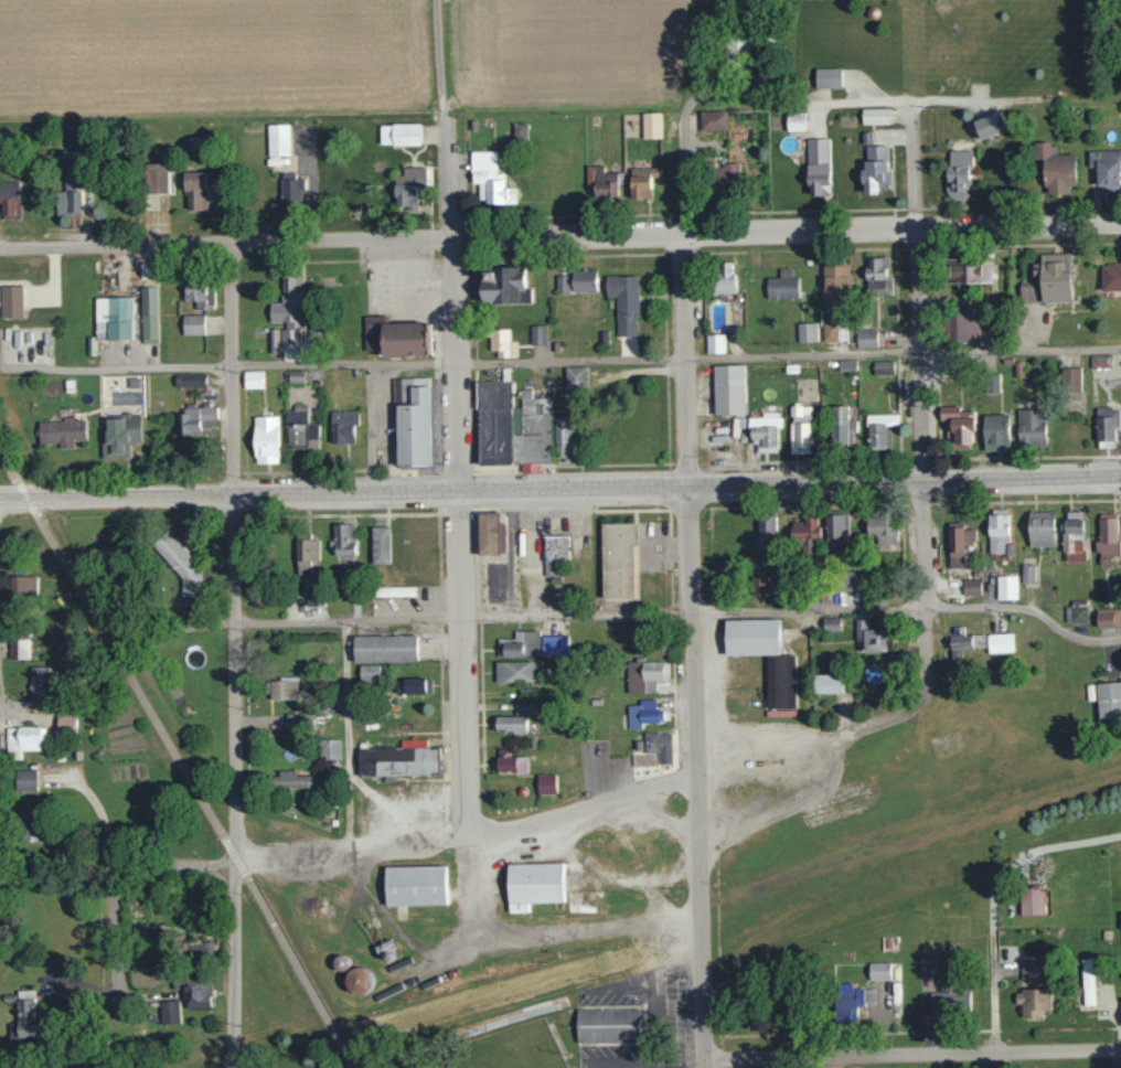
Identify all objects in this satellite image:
road: (745, 30)
road: (440, 55)
building: (828, 77)
road: (880, 97)
road: (976, 100)
road: (851, 102)
building: (875, 115)
building: (714, 119)
building: (796, 120)
building: (991, 124)
building: (652, 125)
building: (520, 130)
road: (681, 131)
building: (399, 133)
building: (278, 139)
building: (818, 165)
road: (914, 165)
building: (876, 167)
building: (1056, 167)
building: (1107, 169)
building: (959, 173)
road: (449, 175)
building: (726, 175)
building: (157, 177)
building: (490, 178)
building: (601, 180)
building: (643, 181)
building: (407, 186)
building: (194, 190)
building: (291, 191)
building: (71, 194)
building: (9, 199)
road: (787, 232)
road: (225, 244)
road: (397, 250)
building: (969, 270)
building: (878, 275)
building: (1111, 275)
building: (725, 277)
building: (1049, 279)
building: (585, 280)
building: (563, 282)
building: (505, 285)
building: (782, 285)
parking lot: (396, 289)
building: (199, 290)
road: (416, 297)
road: (439, 297)
building: (11, 300)
building: (624, 301)
building: (289, 310)
building: (149, 313)
building: (113, 317)
building: (193, 324)
building: (375, 331)
building: (807, 331)
building: (830, 332)
building: (842, 332)
building: (537, 334)
building: (866, 338)
building: (407, 339)
building: (274, 340)
road: (439, 340)
building: (501, 342)
building: (715, 343)
road: (921, 354)
road: (563, 361)
building: (847, 364)
road: (456, 366)
building: (884, 367)
road: (232, 369)
building: (296, 375)
building: (576, 376)
building: (253, 378)
building: (1070, 378)
building: (190, 380)
building: (728, 388)
road: (377, 397)
parking lot: (380, 404)
building: (195, 419)
building: (413, 419)
building: (495, 421)
building: (1107, 423)
building: (343, 425)
road: (437, 425)
building: (842, 426)
building: (959, 427)
building: (1031, 427)
building: (300, 428)
building: (766, 428)
building: (879, 428)
building: (800, 429)
building: (532, 430)
building: (61, 431)
building: (996, 431)
building: (565, 432)
road: (377, 434)
building: (120, 435)
building: (266, 439)
road: (1027, 457)
road: (924, 459)
road: (832, 460)
road: (8, 466)
road: (573, 466)
road: (693, 466)
road: (729, 468)
road: (456, 469)
road: (306, 470)
road: (396, 470)
road: (409, 470)
road: (430, 470)
road: (237, 472)
road: (904, 482)
road: (460, 493)
road: (116, 496)
road: (25, 498)
road: (1026, 501)
road: (555, 502)
road: (921, 504)
road: (807, 506)
road: (533, 509)
road: (632, 510)
road: (685, 510)
road: (458, 511)
road: (344, 514)
road: (238, 515)
road: (670, 523)
building: (883, 527)
building: (836, 528)
building: (1042, 528)
building: (999, 530)
building: (492, 532)
building: (766, 532)
building: (807, 533)
building: (1074, 536)
building: (1108, 536)
building: (343, 540)
road: (650, 540)
road: (924, 543)
building: (959, 543)
building: (380, 544)
parking lot: (653, 547)
road: (670, 548)
road: (511, 553)
building: (307, 554)
road: (709, 556)
parking lot: (531, 557)
building: (618, 560)
building: (181, 564)
building: (1027, 573)
building: (853, 580)
parking lot: (494, 581)
road: (670, 581)
building: (23, 585)
building: (759, 585)
building: (972, 586)
building: (1006, 587)
building: (393, 590)
building: (311, 597)
parking lot: (407, 604)
building: (1077, 610)
road: (671, 612)
road: (682, 612)
road: (711, 612)
building: (1109, 617)
building: (832, 623)
building: (871, 636)
road: (926, 640)
building: (979, 640)
building: (958, 641)
building: (1000, 642)
building: (521, 644)
building: (551, 645)
building: (385, 647)
building: (18, 648)
road: (691, 651)
road: (460, 658)
building: (513, 671)
building: (369, 672)
building: (644, 675)
road: (130, 677)
building: (40, 681)
building: (781, 682)
building: (830, 683)
building: (412, 685)
building: (285, 690)
road: (672, 695)
building: (1109, 698)
building: (525, 701)
road: (38, 704)
road: (20, 712)
building: (643, 713)
road: (887, 715)
road: (713, 719)
building: (66, 720)
building: (292, 722)
building: (509, 724)
road: (345, 736)
building: (23, 739)
building: (660, 743)
building: (638, 744)
road: (759, 746)
building: (331, 749)
building: (398, 761)
building: (511, 761)
parking lot: (601, 767)
road: (668, 770)
road: (671, 775)
building: (25, 779)
road: (236, 780)
building: (292, 780)
road: (602, 781)
building: (545, 783)
parking lot: (398, 794)
road: (401, 809)
road: (578, 809)
road: (641, 813)
road: (104, 819)
building: (30, 823)
road: (715, 829)
road: (716, 846)
road: (353, 852)
road: (235, 858)
road: (182, 865)
road: (606, 873)
road: (472, 879)
building: (534, 885)
building: (417, 886)
building: (1032, 899)
road: (381, 909)
road: (559, 931)
road: (116, 940)
road: (717, 952)
building: (928, 965)
building: (1033, 966)
building: (879, 970)
road: (679, 971)
road: (298, 973)
building: (357, 980)
building: (1088, 982)
building: (197, 991)
building: (869, 995)
building: (1033, 1002)
building: (848, 1004)
building: (947, 1005)
park: (545, 1010)
building: (169, 1012)
building: (24, 1015)
road: (696, 1016)
road: (691, 1017)
road: (656, 1019)
parking lot: (652, 1021)
building: (610, 1024)
park: (511, 1049)
road: (911, 1054)
road: (680, 1057)
road: (719, 1058)
road: (1118, 1058)
road: (993, 1060)
road: (626, 1064)
road: (719, 1067)

